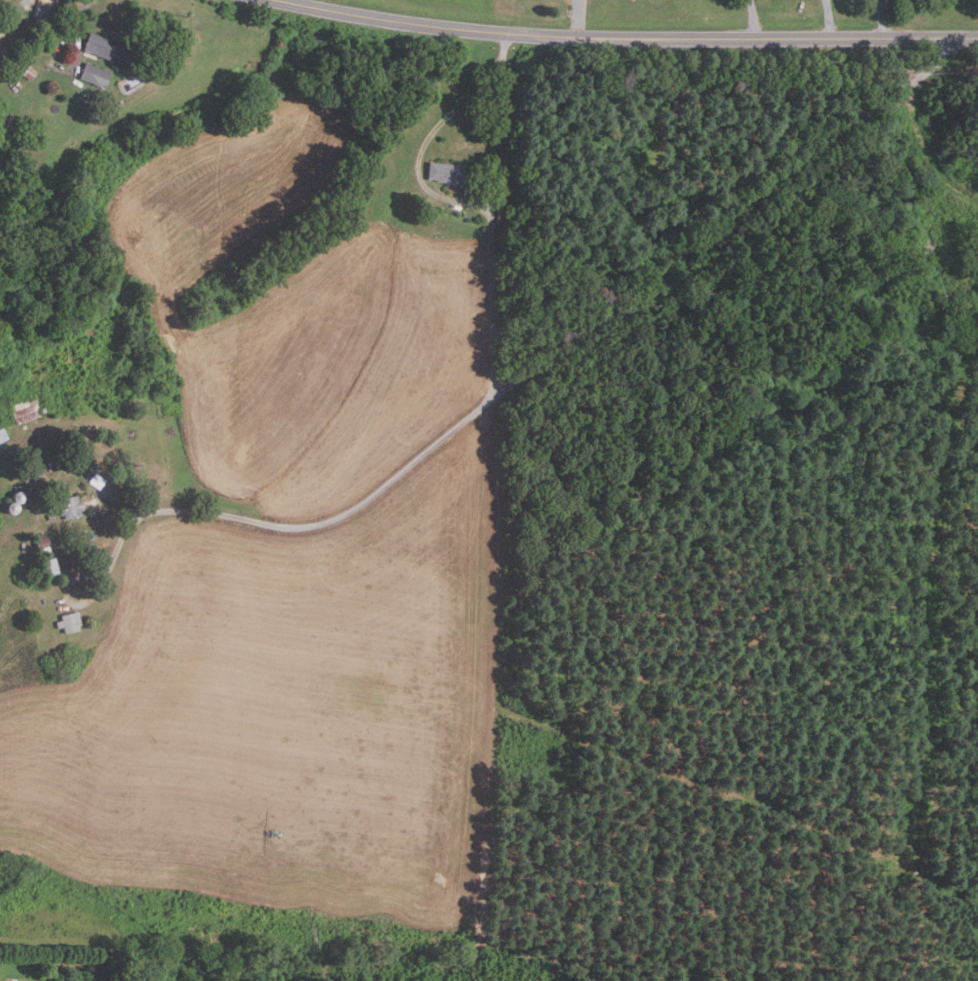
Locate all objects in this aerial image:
road: (83, 9)
road: (882, 17)
road: (625, 37)
building: (106, 49)
building: (27, 72)
building: (93, 75)
building: (11, 128)
building: (455, 174)
building: (501, 216)
road: (731, 221)
road: (484, 403)
building: (25, 411)
building: (2, 435)
building: (27, 480)
silo: (19, 497)
building: (69, 507)
silo: (13, 508)
building: (50, 517)
building: (41, 542)
building: (48, 567)
building: (68, 622)

